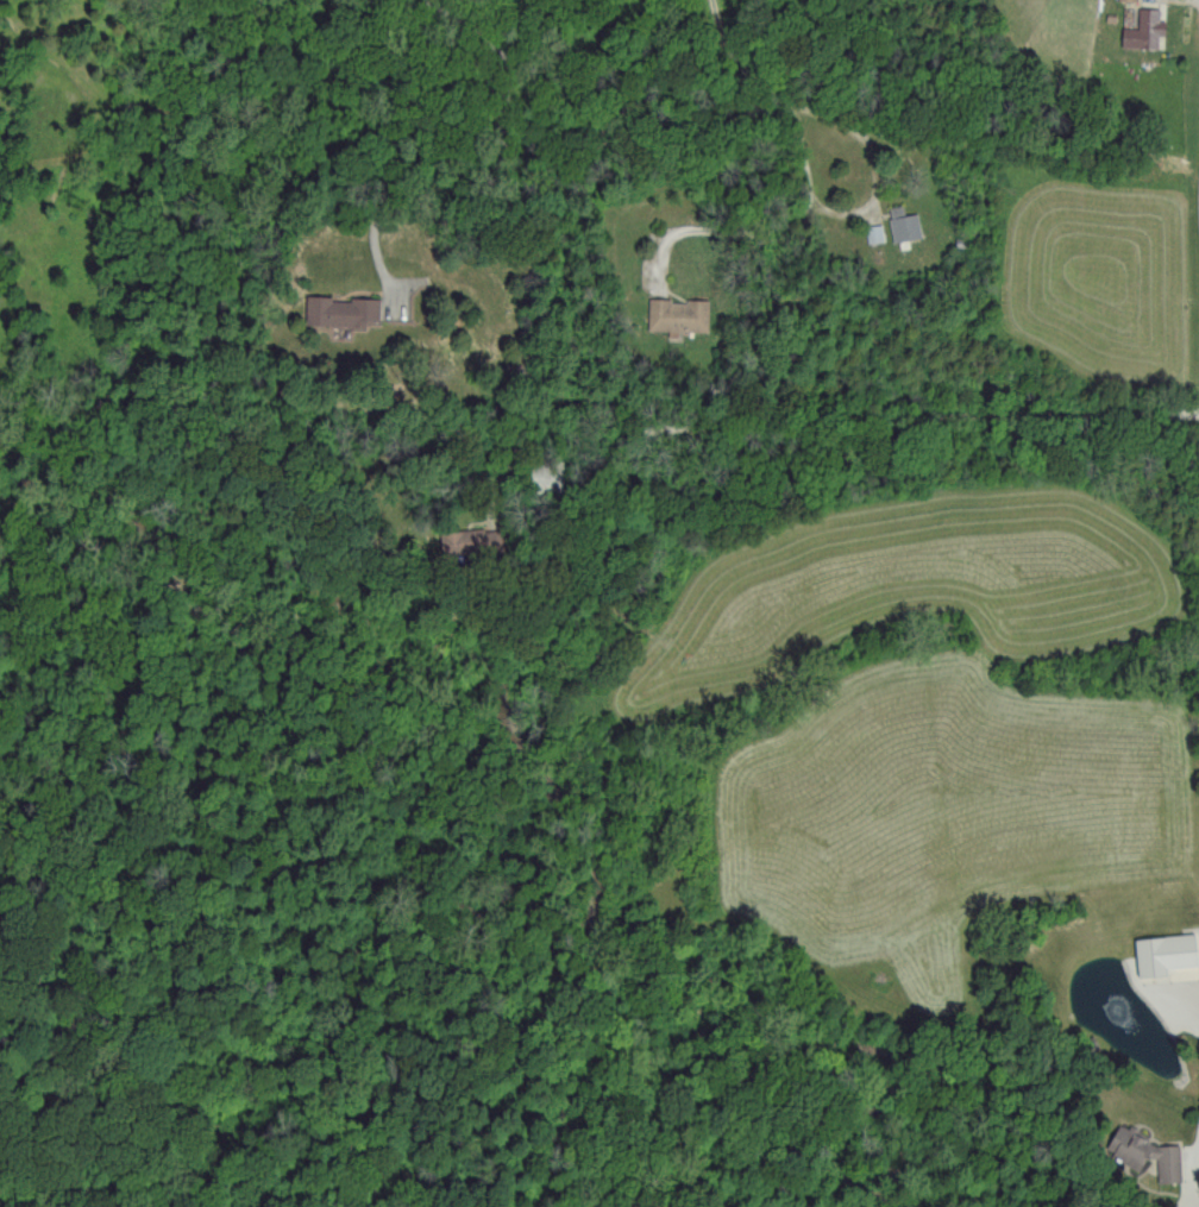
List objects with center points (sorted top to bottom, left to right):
building: (1130, 0)
building: (1140, 31)
road: (785, 93)
road: (877, 163)
road: (412, 168)
building: (900, 224)
road: (713, 228)
building: (872, 232)
building: (338, 309)
building: (674, 314)
road: (822, 416)
building: (453, 538)
building: (1159, 951)
building: (1143, 1152)
road: (1188, 1183)

